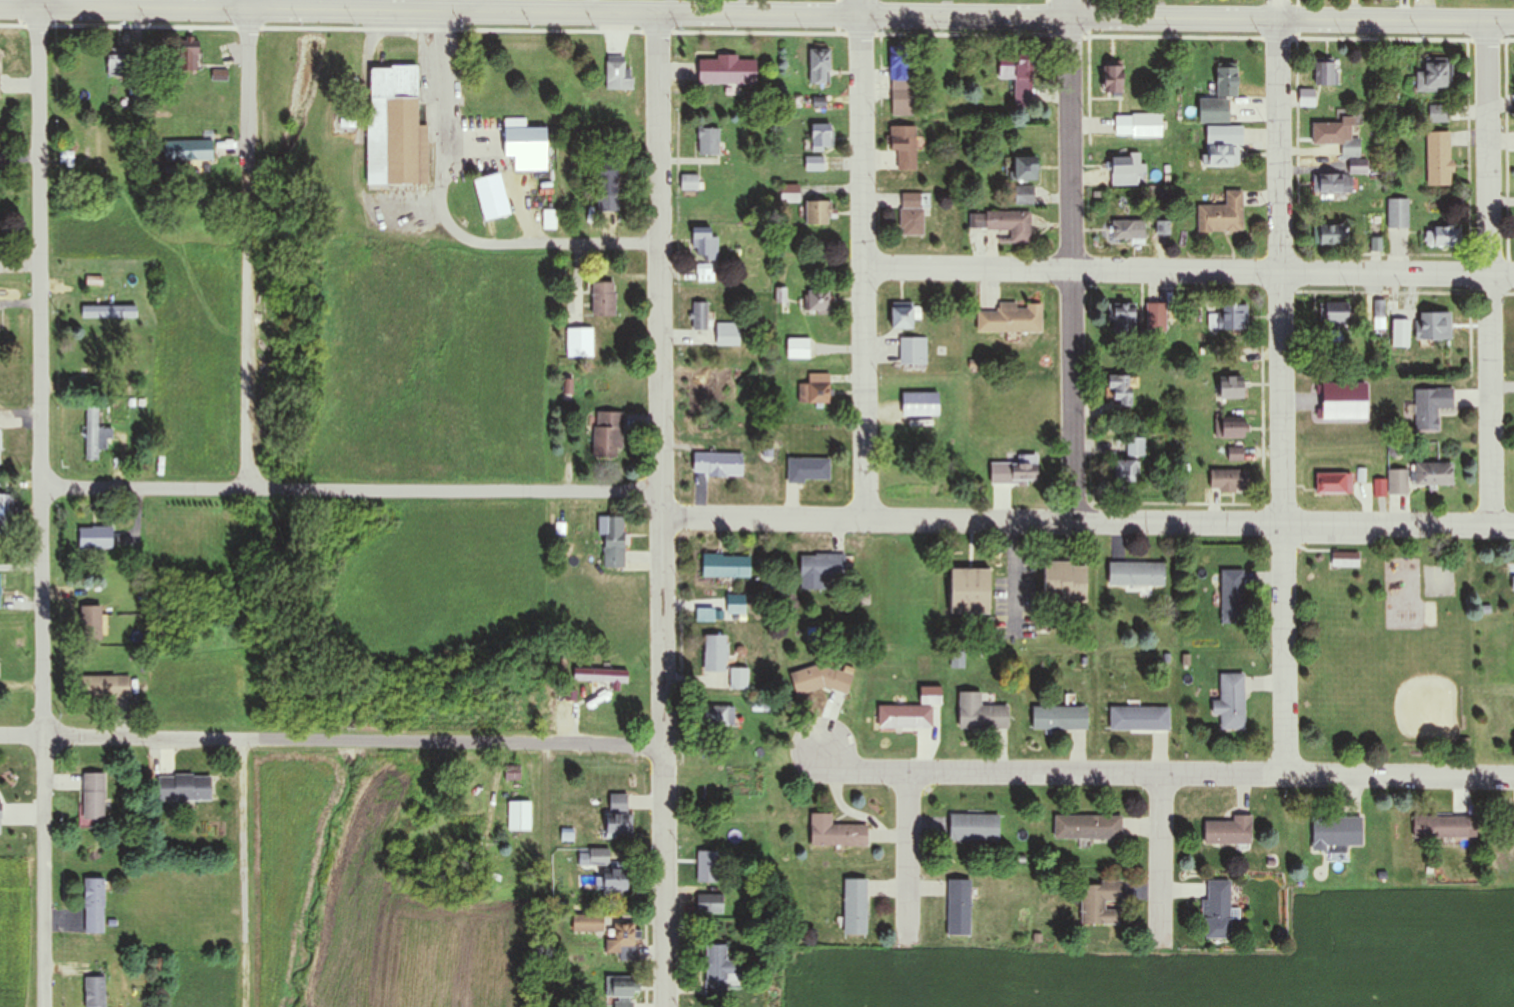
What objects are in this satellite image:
road: (39, 5)
road: (248, 5)
road: (863, 8)
road: (1072, 10)
road: (1284, 11)
road: (757, 14)
building: (188, 54)
building: (118, 62)
building: (819, 66)
building: (726, 70)
building: (1326, 72)
building: (618, 73)
building: (1017, 74)
building: (1433, 75)
building: (1112, 76)
building: (1225, 79)
building: (901, 81)
building: (1213, 110)
road: (443, 112)
building: (1439, 113)
building: (1124, 125)
building: (395, 127)
building: (1337, 136)
building: (821, 137)
building: (708, 141)
building: (525, 144)
building: (1223, 145)
building: (904, 146)
building: (188, 150)
building: (1439, 158)
building: (814, 164)
building: (1358, 166)
building: (1022, 168)
building: (1125, 169)
building: (692, 182)
building: (1334, 183)
building: (607, 186)
building: (789, 192)
building: (1024, 195)
building: (491, 196)
building: (817, 211)
building: (1398, 212)
building: (913, 214)
building: (1222, 215)
building: (550, 219)
building: (1004, 223)
building: (1127, 232)
building: (1330, 234)
building: (1443, 235)
building: (706, 242)
road: (543, 244)
road: (251, 250)
road: (864, 268)
road: (1188, 270)
road: (1073, 271)
building: (706, 272)
road: (1493, 275)
building: (603, 298)
building: (817, 301)
building: (108, 312)
building: (1336, 312)
building: (902, 315)
building: (700, 316)
building: (1238, 317)
building: (1011, 318)
building: (1156, 318)
building: (1123, 319)
building: (1434, 325)
building: (728, 334)
building: (580, 342)
building: (798, 348)
building: (913, 351)
building: (92, 359)
building: (704, 384)
building: (935, 387)
building: (1120, 389)
building: (1230, 389)
building: (815, 390)
road: (1284, 398)
building: (1430, 407)
building: (1350, 416)
building: (1233, 428)
building: (96, 434)
building: (609, 436)
building: (1136, 447)
building: (1235, 455)
building: (718, 464)
building: (808, 470)
building: (1126, 471)
building: (1023, 472)
building: (1433, 474)
building: (1228, 481)
building: (1397, 483)
building: (1333, 484)
road: (353, 490)
road: (43, 508)
road: (664, 509)
building: (7, 514)
road: (1089, 522)
building: (95, 537)
building: (612, 540)
building: (1345, 560)
building: (726, 566)
building: (822, 567)
building: (1136, 574)
building: (1065, 581)
building: (1440, 583)
building: (1513, 584)
building: (0, 591)
building: (969, 591)
building: (1232, 596)
building: (736, 605)
building: (90, 623)
building: (715, 654)
building: (601, 675)
building: (818, 680)
building: (105, 687)
building: (1231, 702)
building: (980, 713)
building: (716, 716)
building: (905, 717)
building: (1059, 718)
building: (1139, 719)
road: (22, 735)
road: (355, 741)
building: (512, 772)
road: (1168, 775)
building: (183, 788)
building: (92, 796)
building: (619, 814)
building: (520, 816)
building: (1088, 827)
building: (1445, 827)
building: (974, 828)
building: (1228, 831)
building: (836, 833)
building: (1336, 834)
building: (468, 835)
road: (909, 856)
road: (1162, 856)
building: (599, 857)
building: (709, 866)
building: (617, 880)
building: (1100, 902)
building: (710, 904)
building: (93, 906)
building: (855, 906)
building: (959, 907)
building: (1217, 910)
building: (588, 924)
building: (622, 941)
building: (720, 972)
building: (94, 991)
building: (622, 992)

